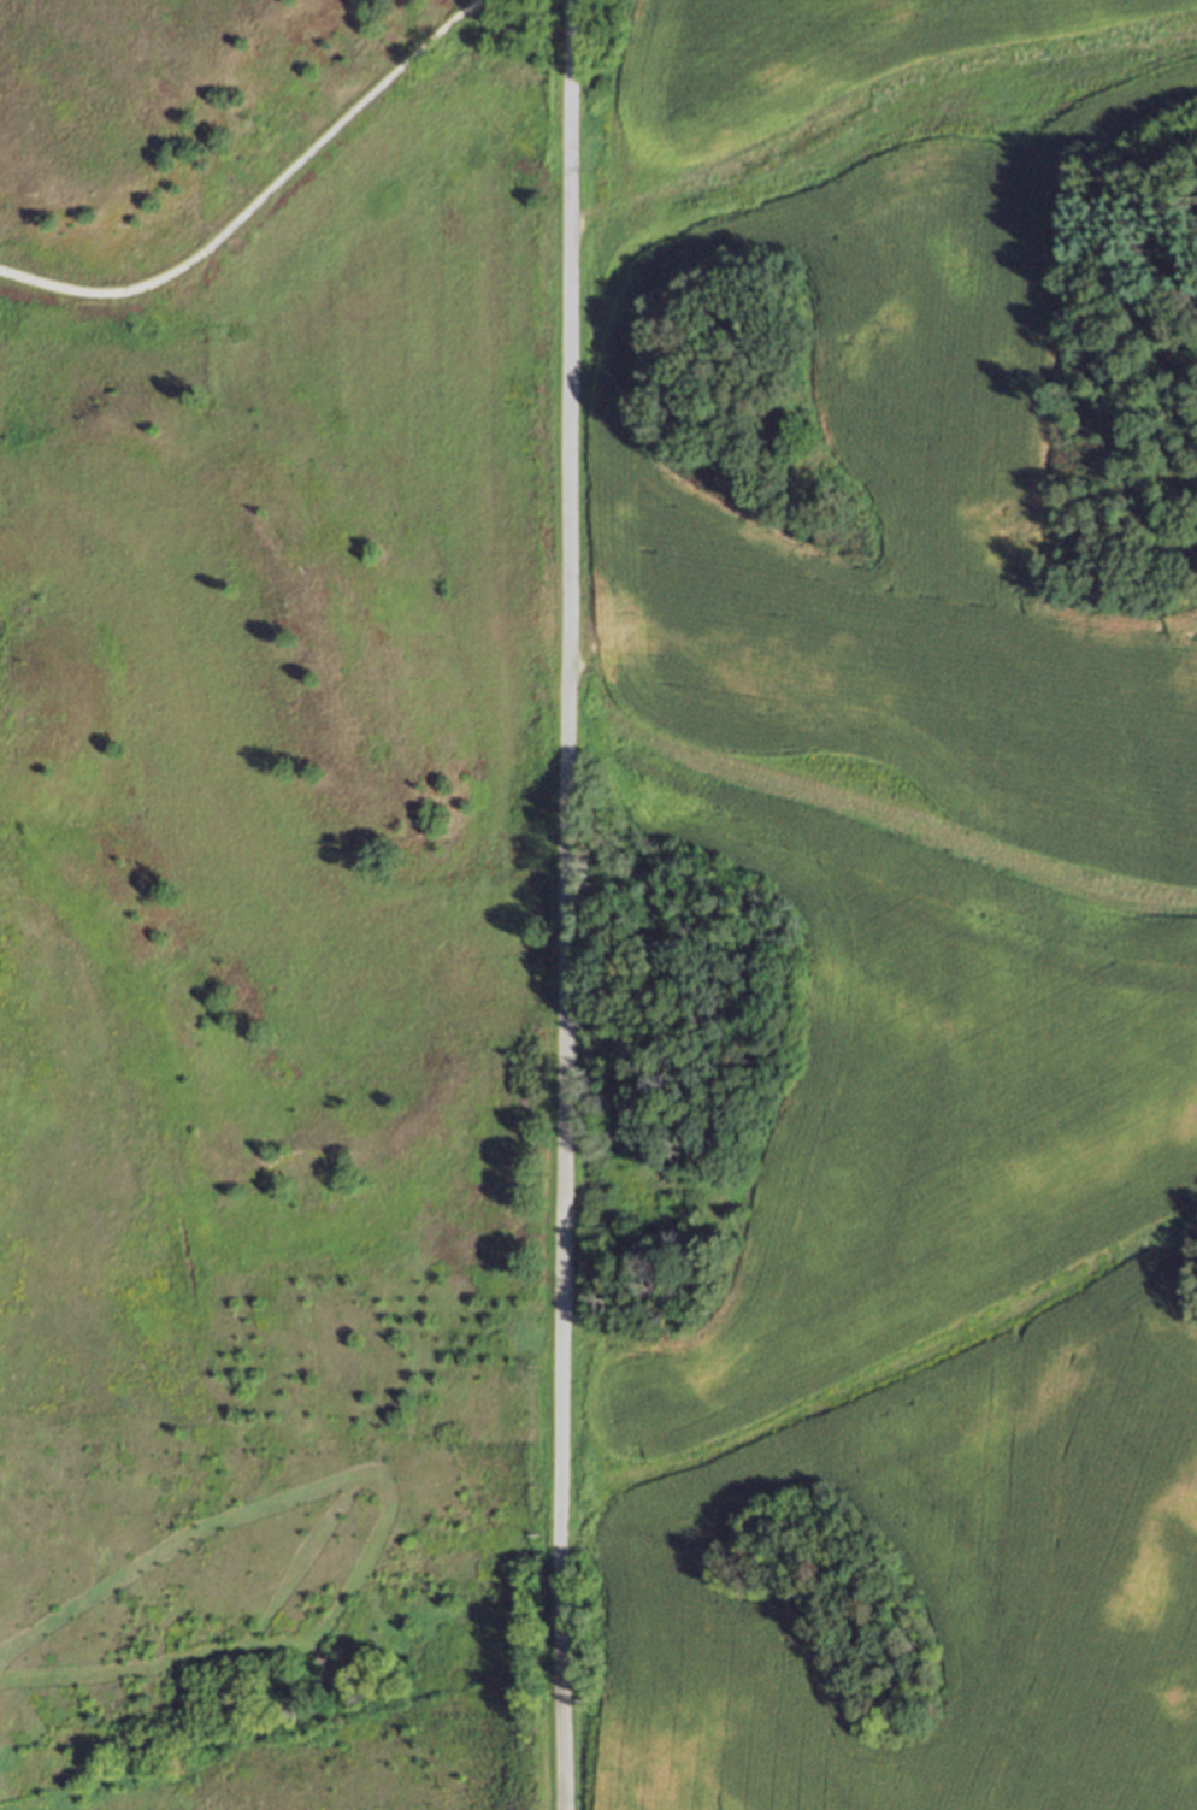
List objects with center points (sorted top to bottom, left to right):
road: (265, 200)
road: (566, 904)

